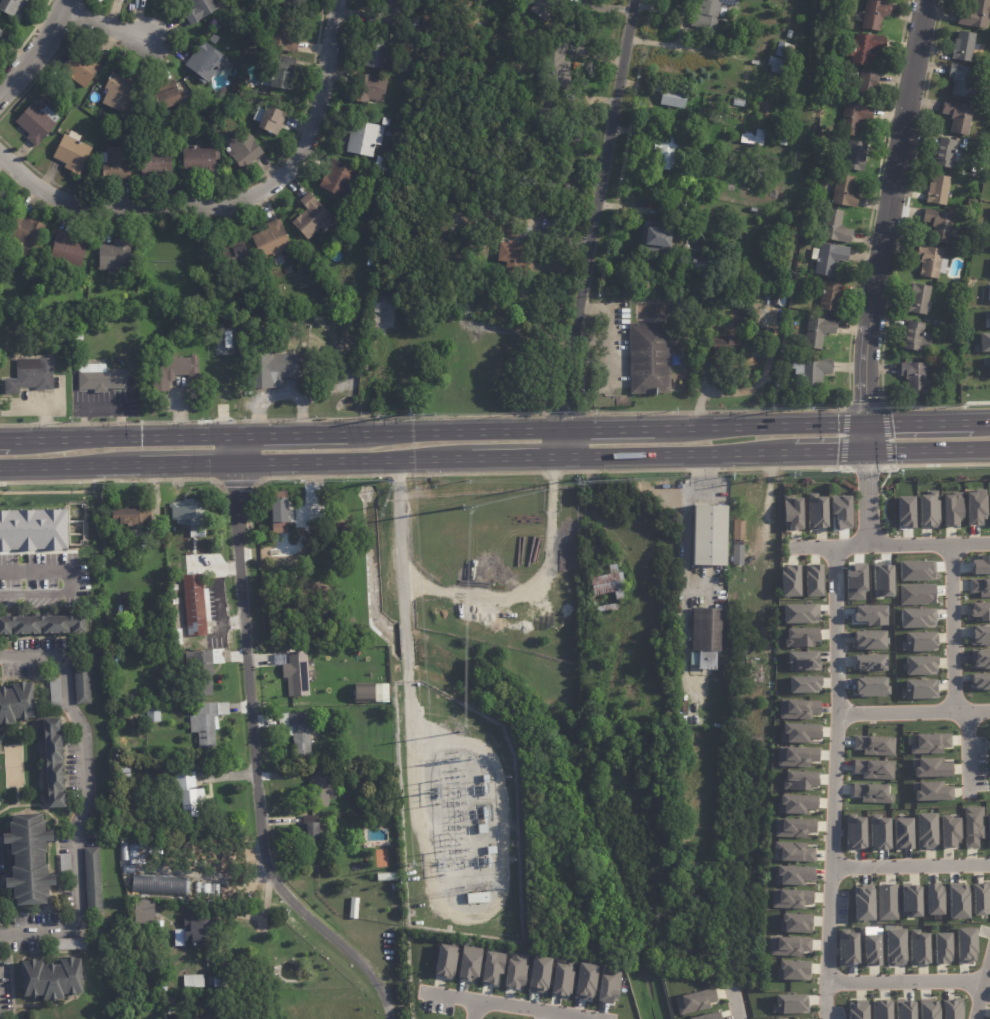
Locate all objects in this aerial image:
building: (224, 1)
building: (288, 2)
building: (13, 8)
building: (544, 8)
building: (201, 10)
building: (711, 12)
building: (876, 15)
building: (394, 16)
building: (977, 16)
road: (104, 24)
building: (283, 33)
building: (790, 34)
building: (987, 37)
building: (2, 38)
building: (731, 41)
building: (966, 47)
building: (866, 48)
road: (37, 49)
building: (786, 51)
building: (378, 53)
building: (207, 62)
building: (285, 63)
building: (777, 65)
building: (557, 67)
building: (80, 68)
building: (277, 80)
building: (748, 80)
building: (965, 83)
building: (870, 85)
building: (369, 89)
building: (119, 92)
building: (673, 97)
building: (169, 99)
building: (989, 99)
building: (739, 103)
building: (69, 105)
building: (545, 113)
building: (815, 116)
building: (960, 117)
building: (375, 119)
building: (857, 119)
building: (270, 120)
building: (123, 122)
building: (37, 123)
building: (781, 133)
building: (364, 138)
building: (814, 139)
building: (749, 140)
building: (672, 145)
building: (244, 149)
building: (73, 152)
building: (946, 154)
building: (858, 156)
building: (200, 160)
building: (156, 163)
building: (117, 164)
building: (979, 169)
building: (373, 177)
building: (340, 181)
building: (940, 191)
building: (846, 192)
road: (229, 200)
building: (753, 210)
road: (887, 210)
road: (593, 212)
building: (314, 218)
building: (941, 226)
building: (837, 227)
building: (513, 232)
building: (24, 234)
building: (658, 238)
building: (272, 240)
building: (816, 242)
building: (713, 248)
building: (67, 253)
building: (236, 253)
building: (511, 253)
building: (115, 256)
building: (830, 259)
building: (371, 260)
building: (931, 262)
building: (530, 267)
building: (703, 267)
building: (696, 283)
building: (832, 297)
building: (185, 298)
building: (921, 300)
building: (688, 304)
building: (377, 308)
building: (257, 320)
building: (820, 333)
building: (918, 338)
building: (78, 341)
building: (984, 342)
building: (728, 344)
building: (792, 349)
building: (649, 359)
building: (986, 363)
building: (172, 371)
building: (274, 371)
building: (813, 372)
building: (30, 376)
building: (915, 377)
building: (101, 379)
power tower: (800, 405)
power tower: (407, 414)
road: (979, 419)
road: (916, 420)
traffic signals: (865, 422)
road: (757, 423)
road: (607, 425)
road: (453, 428)
road: (289, 431)
road: (118, 434)
road: (0, 437)
road: (866, 437)
road: (564, 441)
road: (235, 448)
road: (928, 451)
road: (831, 453)
traffic signals: (867, 453)
road: (679, 455)
road: (517, 457)
road: (353, 461)
road: (186, 464)
road: (68, 465)
power tower: (789, 475)
power tower: (574, 479)
road: (868, 500)
building: (989, 504)
power tower: (463, 508)
building: (974, 508)
building: (928, 509)
building: (951, 509)
building: (815, 511)
building: (758, 512)
building: (791, 512)
building: (133, 513)
building: (192, 513)
building: (282, 514)
building: (32, 530)
building: (744, 530)
building: (710, 535)
road: (892, 547)
road: (683, 552)
building: (742, 559)
building: (980, 564)
road: (45, 569)
building: (812, 580)
building: (881, 580)
building: (789, 581)
building: (611, 583)
building: (980, 586)
road: (35, 591)
road: (476, 597)
road: (402, 602)
building: (164, 604)
building: (196, 605)
building: (609, 608)
building: (213, 611)
building: (980, 611)
building: (799, 613)
building: (916, 617)
building: (43, 624)
building: (135, 627)
road: (954, 630)
building: (980, 635)
building: (178, 636)
building: (706, 637)
building: (800, 637)
building: (869, 639)
building: (918, 642)
road: (405, 644)
building: (980, 659)
building: (802, 660)
building: (869, 662)
building: (918, 665)
building: (205, 670)
building: (299, 673)
building: (980, 681)
building: (82, 683)
building: (803, 684)
building: (870, 687)
building: (918, 689)
building: (363, 693)
building: (55, 694)
building: (16, 703)
building: (797, 708)
building: (133, 711)
building: (153, 714)
road: (914, 714)
building: (207, 722)
building: (298, 732)
power tower: (458, 732)
building: (798, 733)
building: (926, 743)
building: (874, 745)
road: (970, 752)
building: (795, 756)
building: (53, 763)
road: (256, 765)
building: (929, 767)
building: (873, 769)
building: (357, 771)
building: (129, 773)
building: (487, 779)
building: (799, 780)
road: (836, 784)
building: (930, 791)
building: (320, 792)
power tower: (429, 793)
building: (870, 793)
building: (187, 795)
road: (80, 801)
building: (795, 803)
power substation: (455, 816)
building: (192, 826)
building: (972, 826)
building: (793, 827)
building: (482, 829)
building: (925, 830)
building: (948, 831)
building: (988, 831)
building: (854, 832)
building: (310, 833)
building: (878, 833)
building: (902, 833)
building: (492, 850)
building: (181, 851)
building: (794, 851)
building: (141, 852)
building: (29, 859)
building: (65, 865)
road: (911, 868)
building: (792, 875)
road: (209, 876)
building: (387, 877)
building: (93, 880)
building: (161, 885)
building: (478, 898)
building: (790, 898)
building: (980, 898)
building: (933, 899)
building: (910, 900)
building: (957, 900)
building: (863, 902)
building: (886, 902)
building: (350, 907)
road: (265, 910)
building: (144, 914)
road: (461, 914)
building: (794, 922)
building: (193, 931)
building: (69, 944)
building: (965, 944)
building: (788, 945)
building: (894, 946)
building: (846, 947)
building: (917, 947)
building: (941, 948)
building: (871, 949)
building: (445, 960)
building: (468, 963)
building: (490, 967)
building: (792, 970)
building: (514, 971)
building: (538, 974)
building: (561, 979)
building: (52, 980)
building: (199, 981)
building: (585, 981)
road: (907, 984)
building: (608, 985)
building: (161, 987)
road: (982, 992)
building: (693, 1001)
road: (734, 1003)
building: (789, 1004)
road: (510, 1005)
building: (855, 1009)
building: (880, 1009)
building: (903, 1009)
building: (927, 1009)
building: (951, 1009)
road: (475, 1010)
building: (707, 1016)
building: (210, 1017)
road: (588, 1018)
building: (806, 1018)

